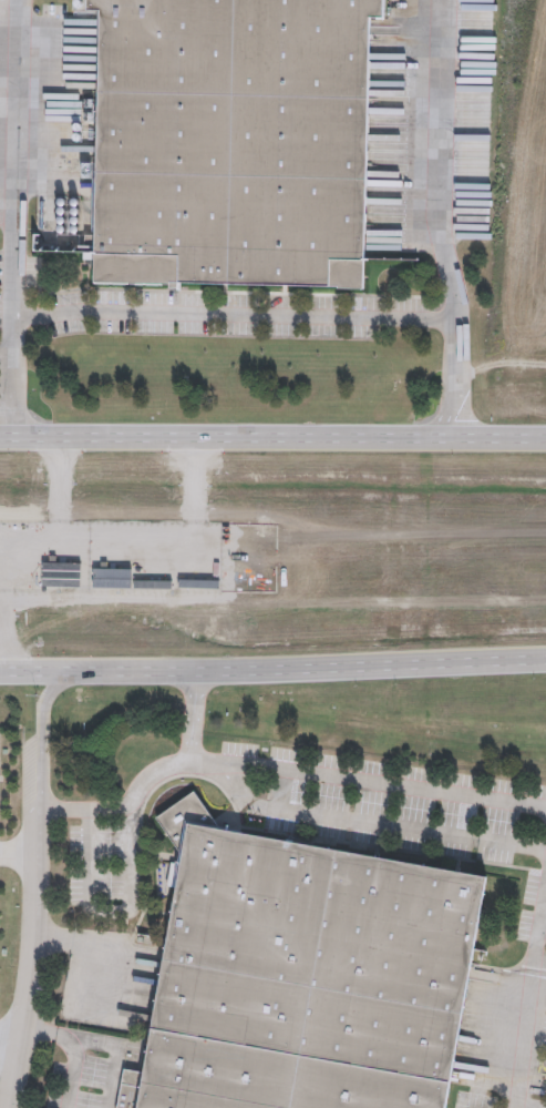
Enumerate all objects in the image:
building: (229, 141)
road: (14, 218)
road: (436, 220)
crop: (526, 227)
road: (231, 316)
road: (6, 362)
road: (272, 437)
road: (272, 669)
road: (41, 735)
road: (153, 774)
road: (368, 779)
road: (239, 795)
road: (390, 826)
road: (20, 851)
road: (104, 913)
road: (86, 947)
building: (312, 951)
road: (39, 958)
road: (529, 1000)
road: (12, 1040)
road: (119, 1049)
road: (73, 1051)
building: (267, 1079)

